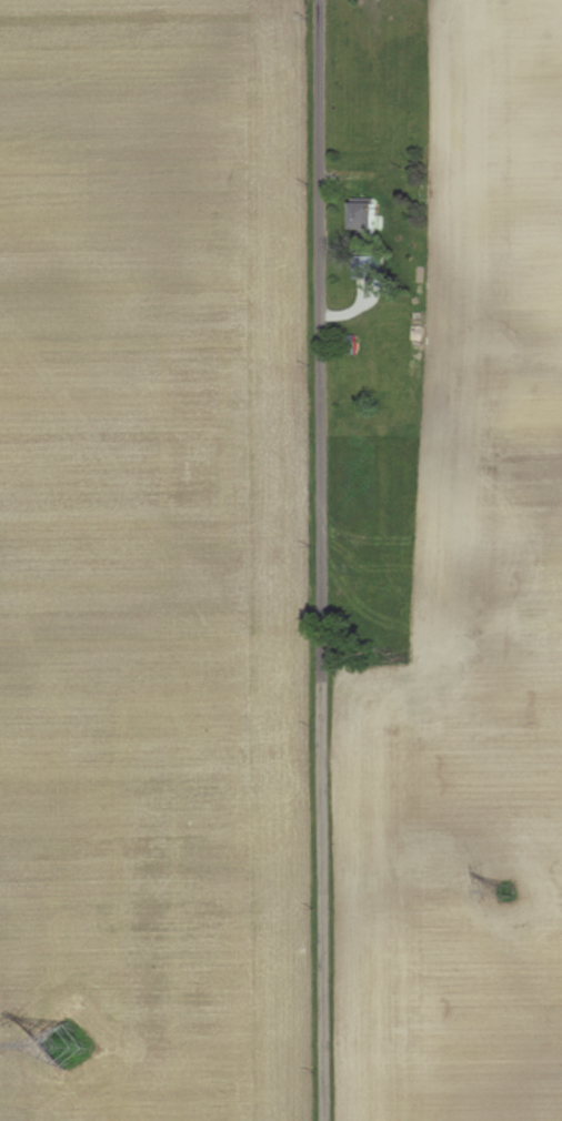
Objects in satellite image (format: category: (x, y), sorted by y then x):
building: (369, 215)
building: (368, 265)
road: (321, 559)
power tower: (87, 1044)

